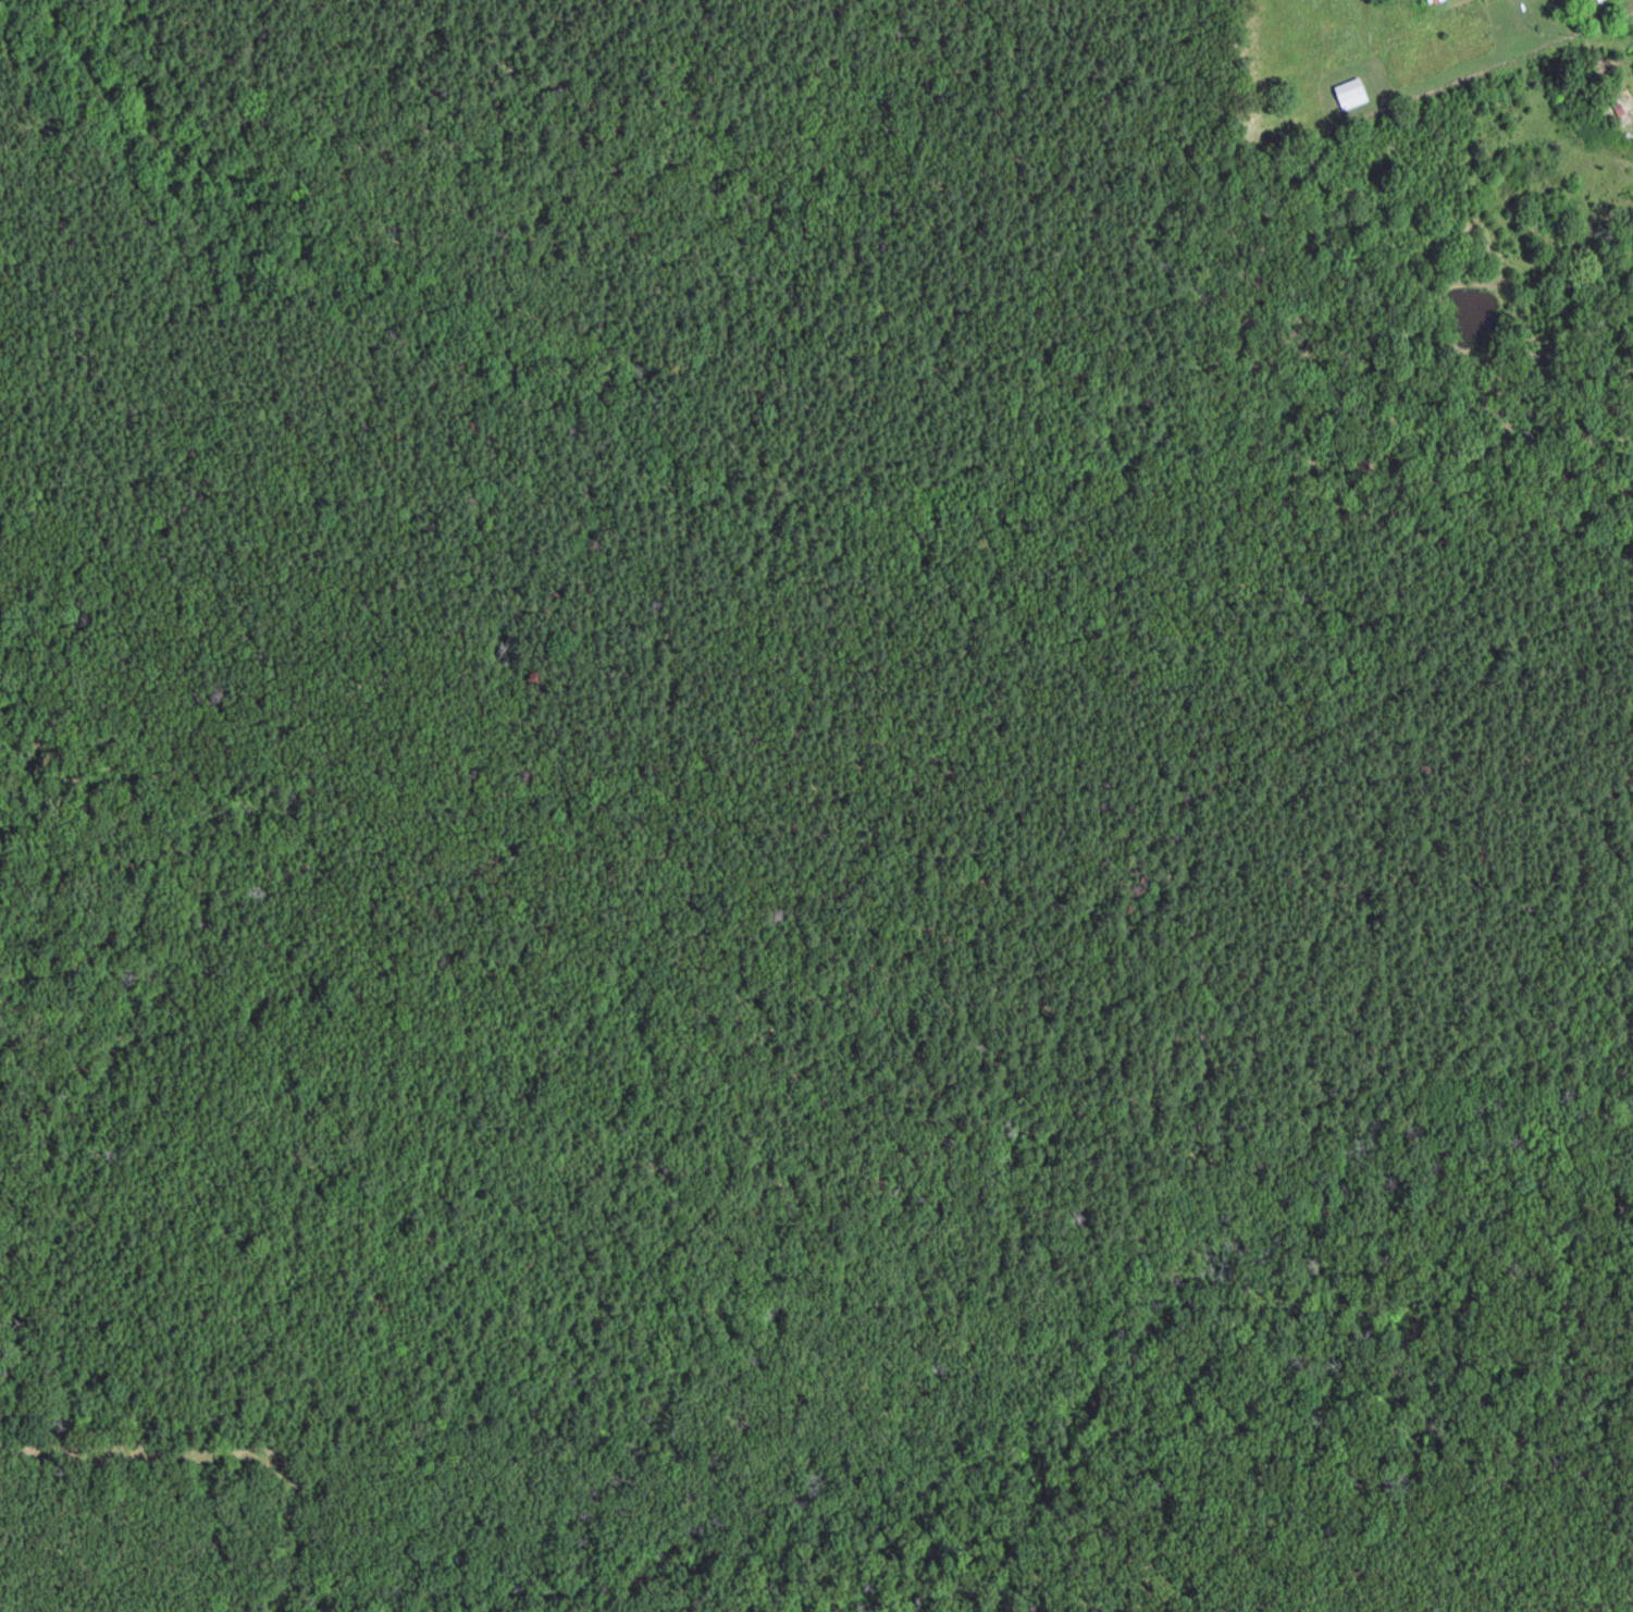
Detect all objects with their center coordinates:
building: (1353, 93)

